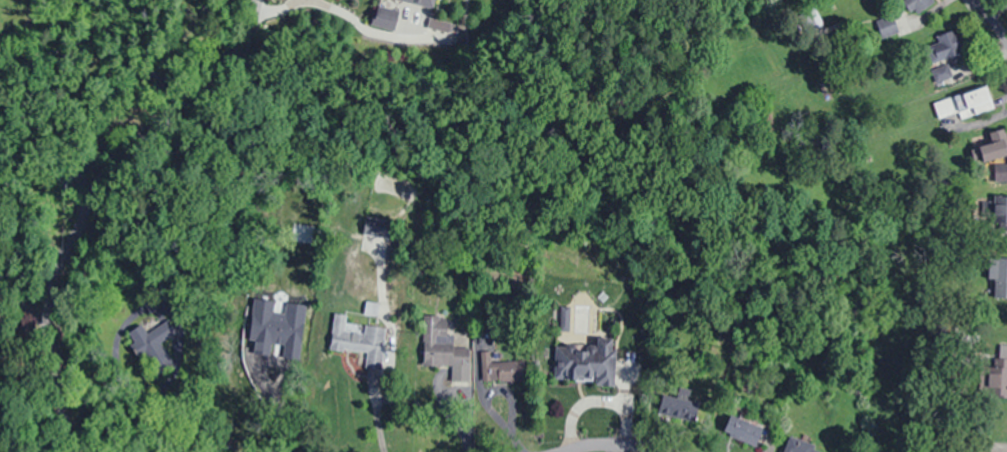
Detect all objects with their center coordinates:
building: (425, 3)
building: (917, 5)
building: (808, 19)
road: (991, 21)
building: (943, 49)
building: (973, 102)
building: (993, 151)
road: (113, 161)
building: (1000, 213)
building: (377, 227)
building: (997, 275)
building: (358, 340)
building: (437, 340)
building: (584, 363)
building: (504, 373)
building: (1000, 376)
building: (676, 403)
road: (63, 409)
building: (743, 428)
building: (800, 445)
road: (611, 446)

